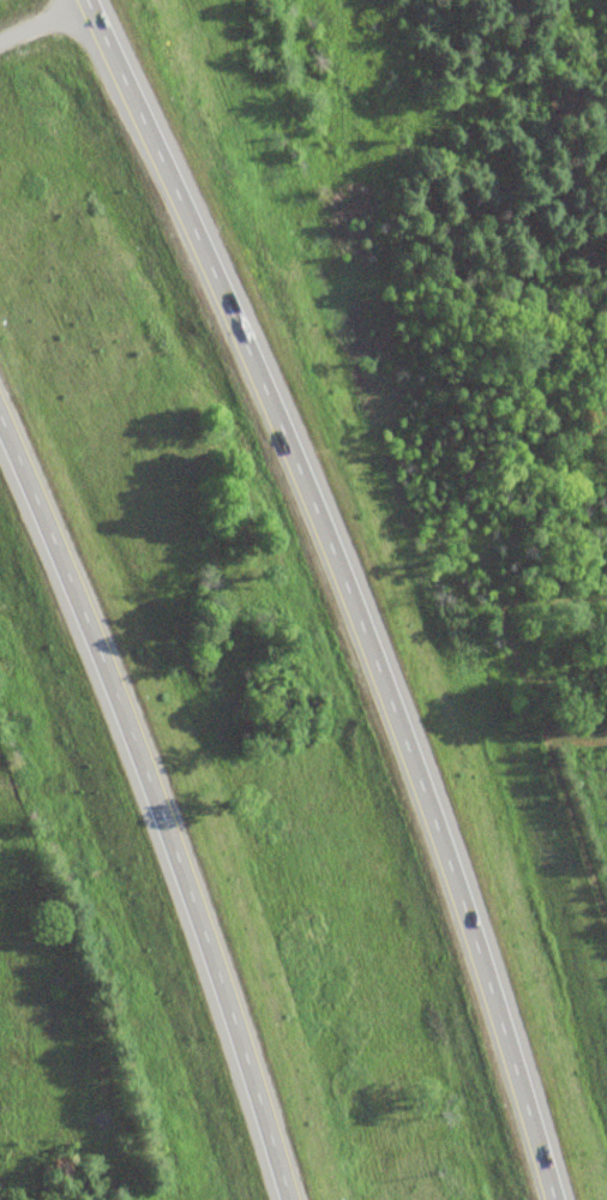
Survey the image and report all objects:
road: (49, 25)
road: (355, 588)
road: (160, 803)

